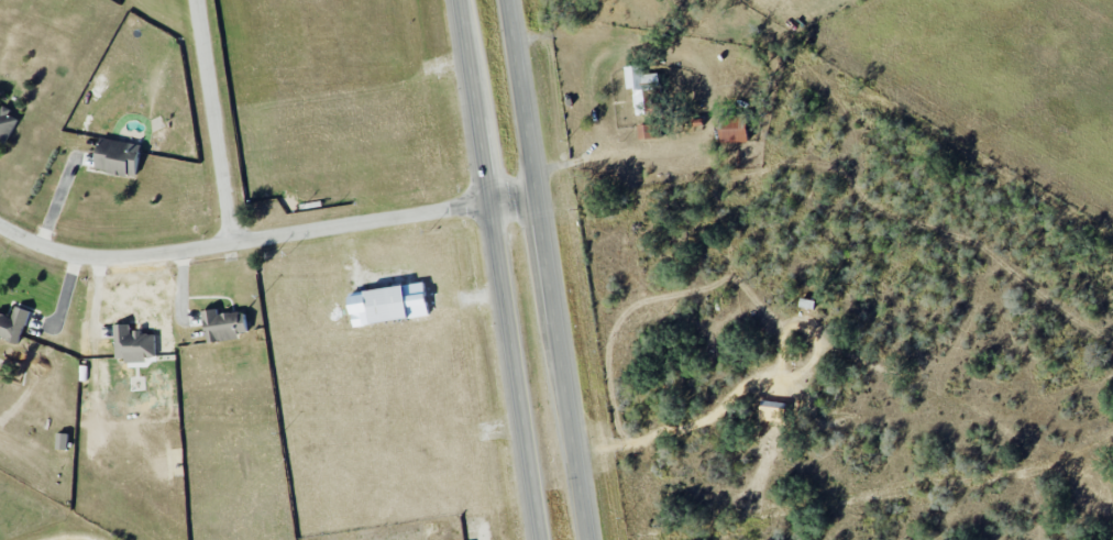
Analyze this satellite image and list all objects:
building: (640, 85)
road: (216, 121)
building: (5, 124)
building: (732, 129)
building: (647, 131)
building: (117, 156)
road: (266, 238)
road: (502, 269)
road: (548, 269)
road: (64, 301)
building: (395, 302)
building: (12, 324)
building: (224, 324)
building: (133, 344)
building: (773, 407)
building: (62, 440)
road: (69, 537)

